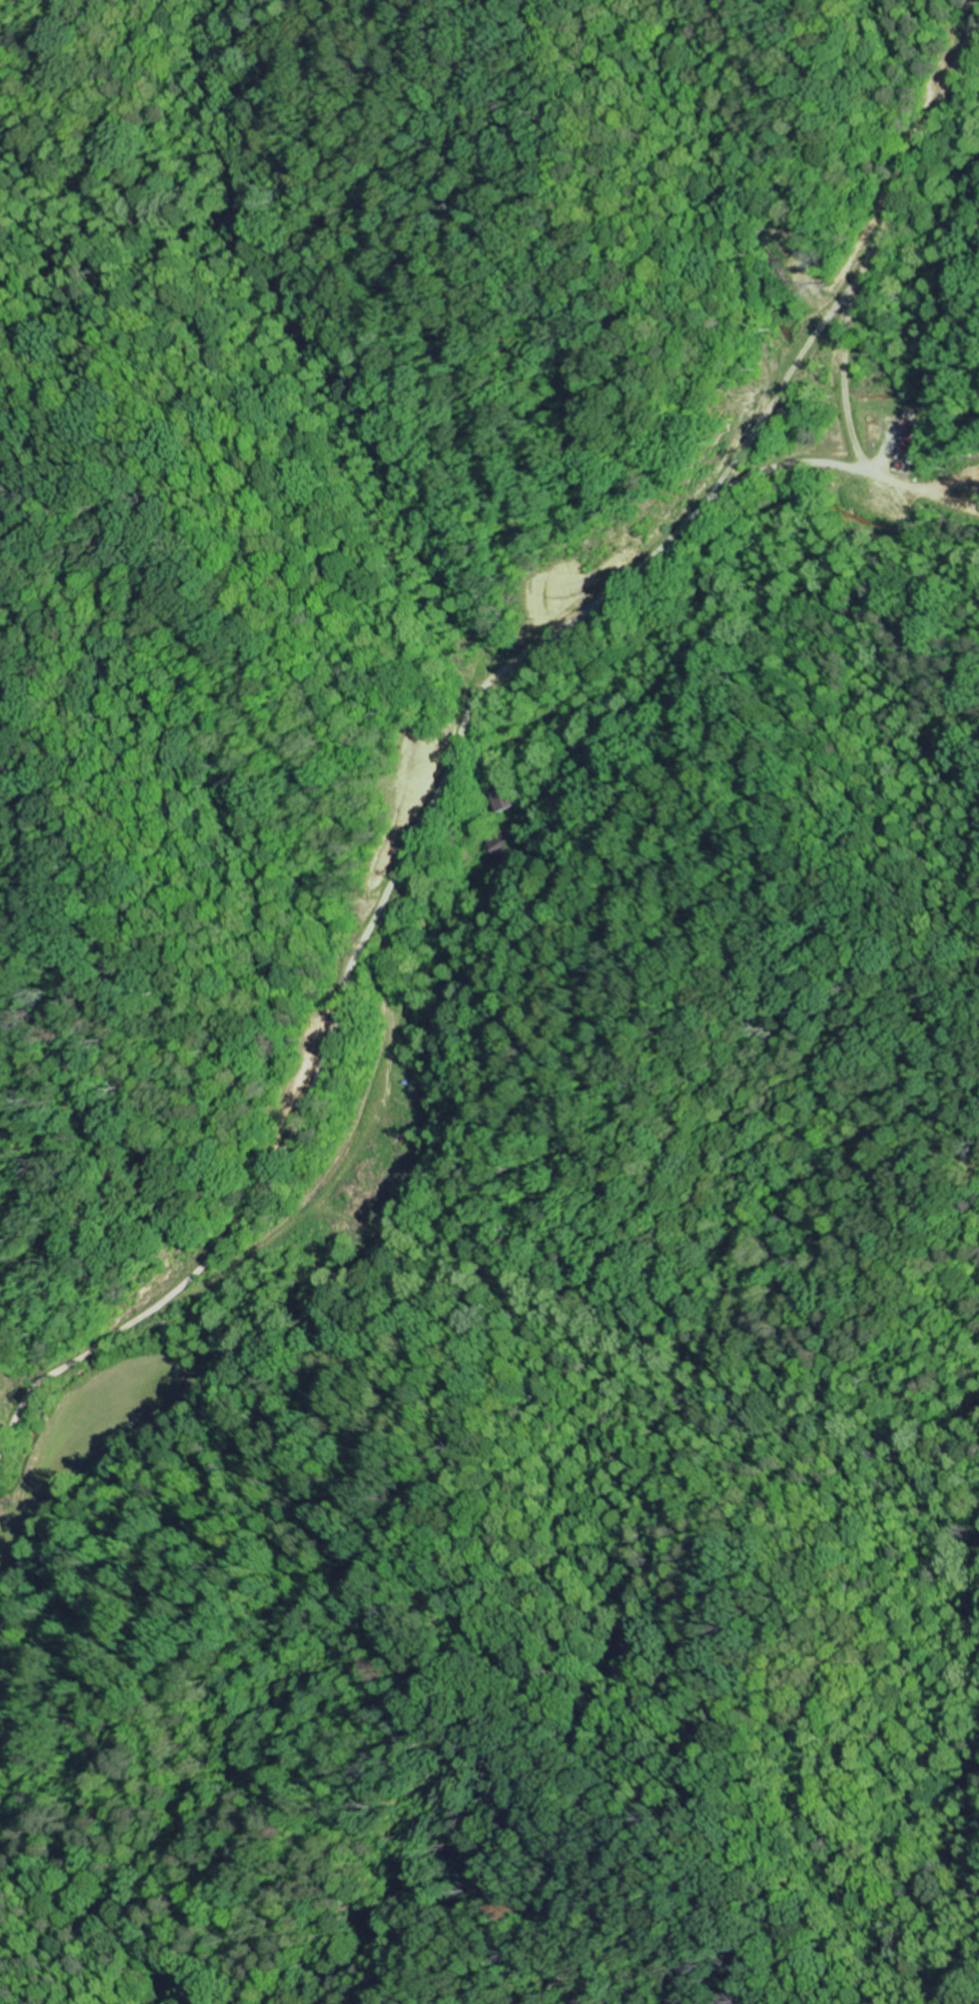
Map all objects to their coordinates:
road: (878, 243)
building: (501, 799)
road: (408, 841)

